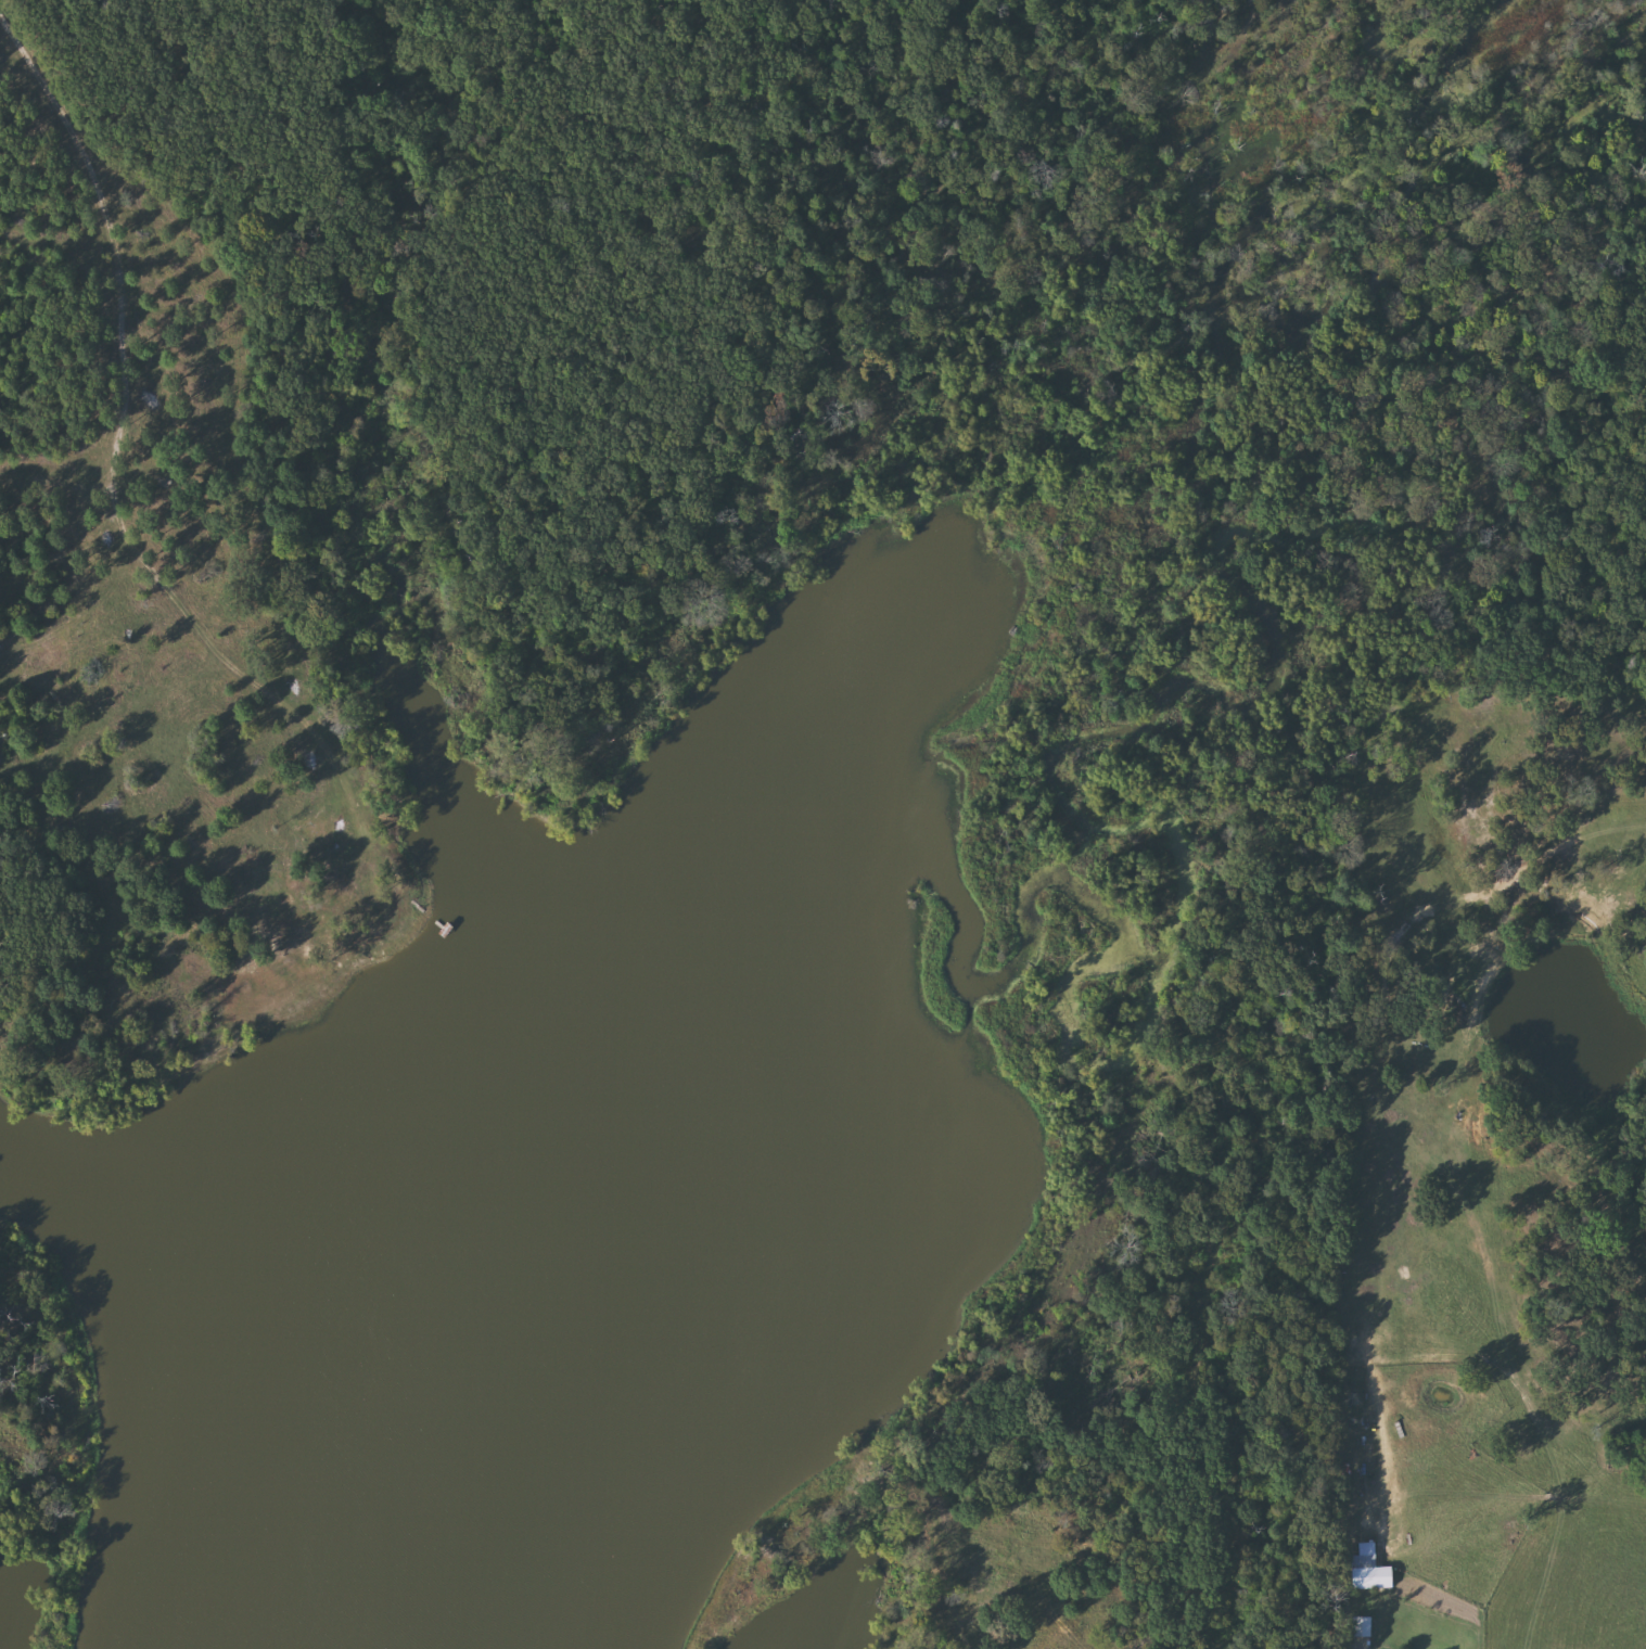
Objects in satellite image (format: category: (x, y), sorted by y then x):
building: (1374, 1572)
building: (1365, 1625)

